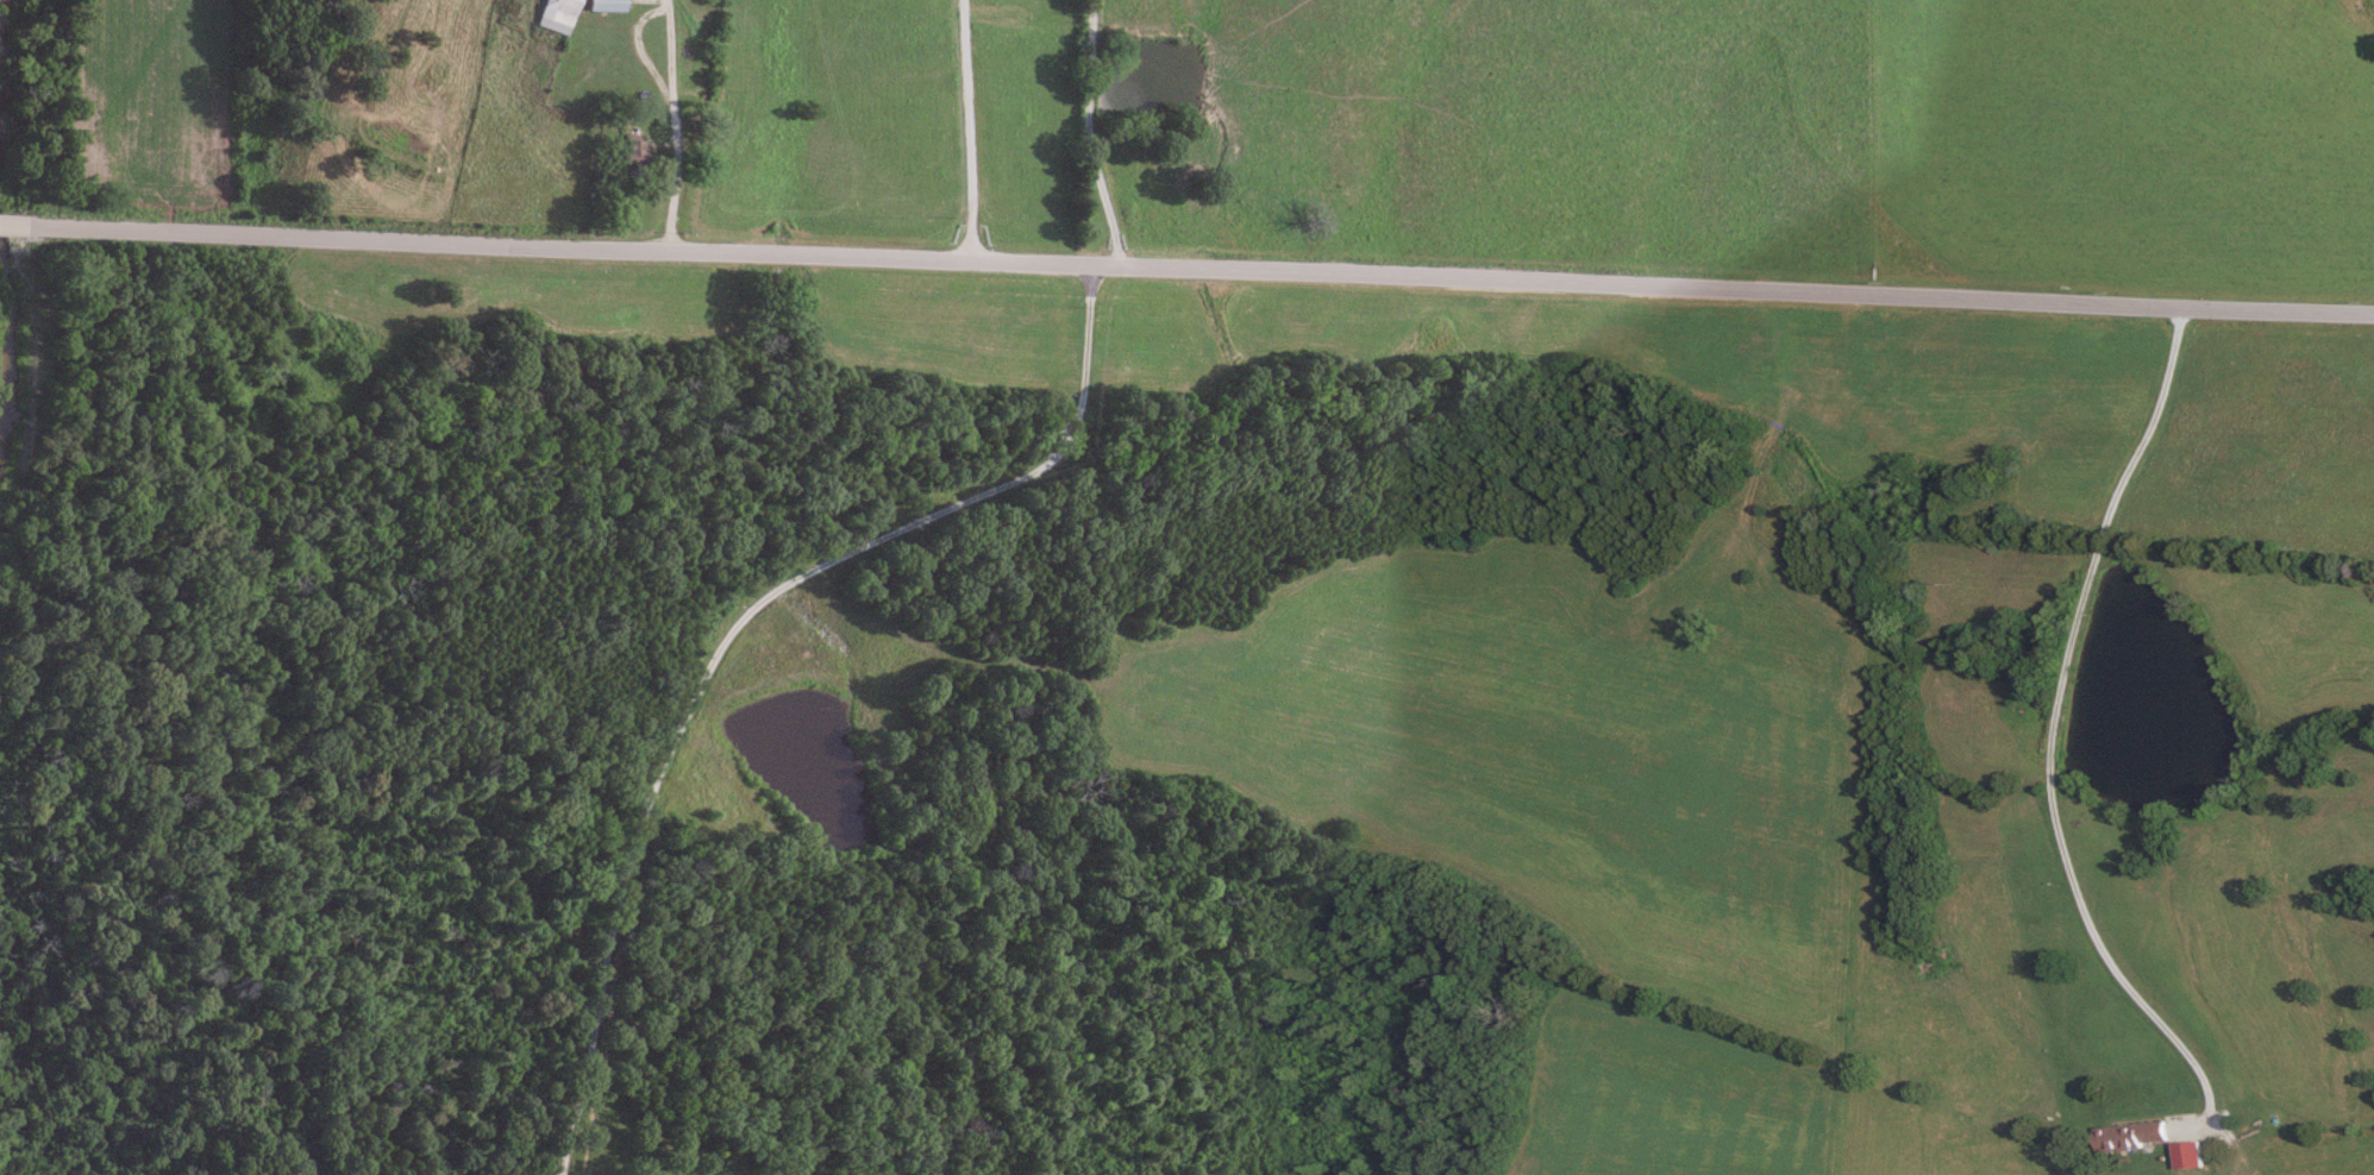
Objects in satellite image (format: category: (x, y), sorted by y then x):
building: (605, 5)
building: (556, 14)
road: (670, 68)
road: (967, 128)
road: (1088, 133)
road: (15, 227)
road: (1203, 266)
road: (726, 634)
road: (2056, 724)
building: (2130, 1136)
road: (558, 1173)

